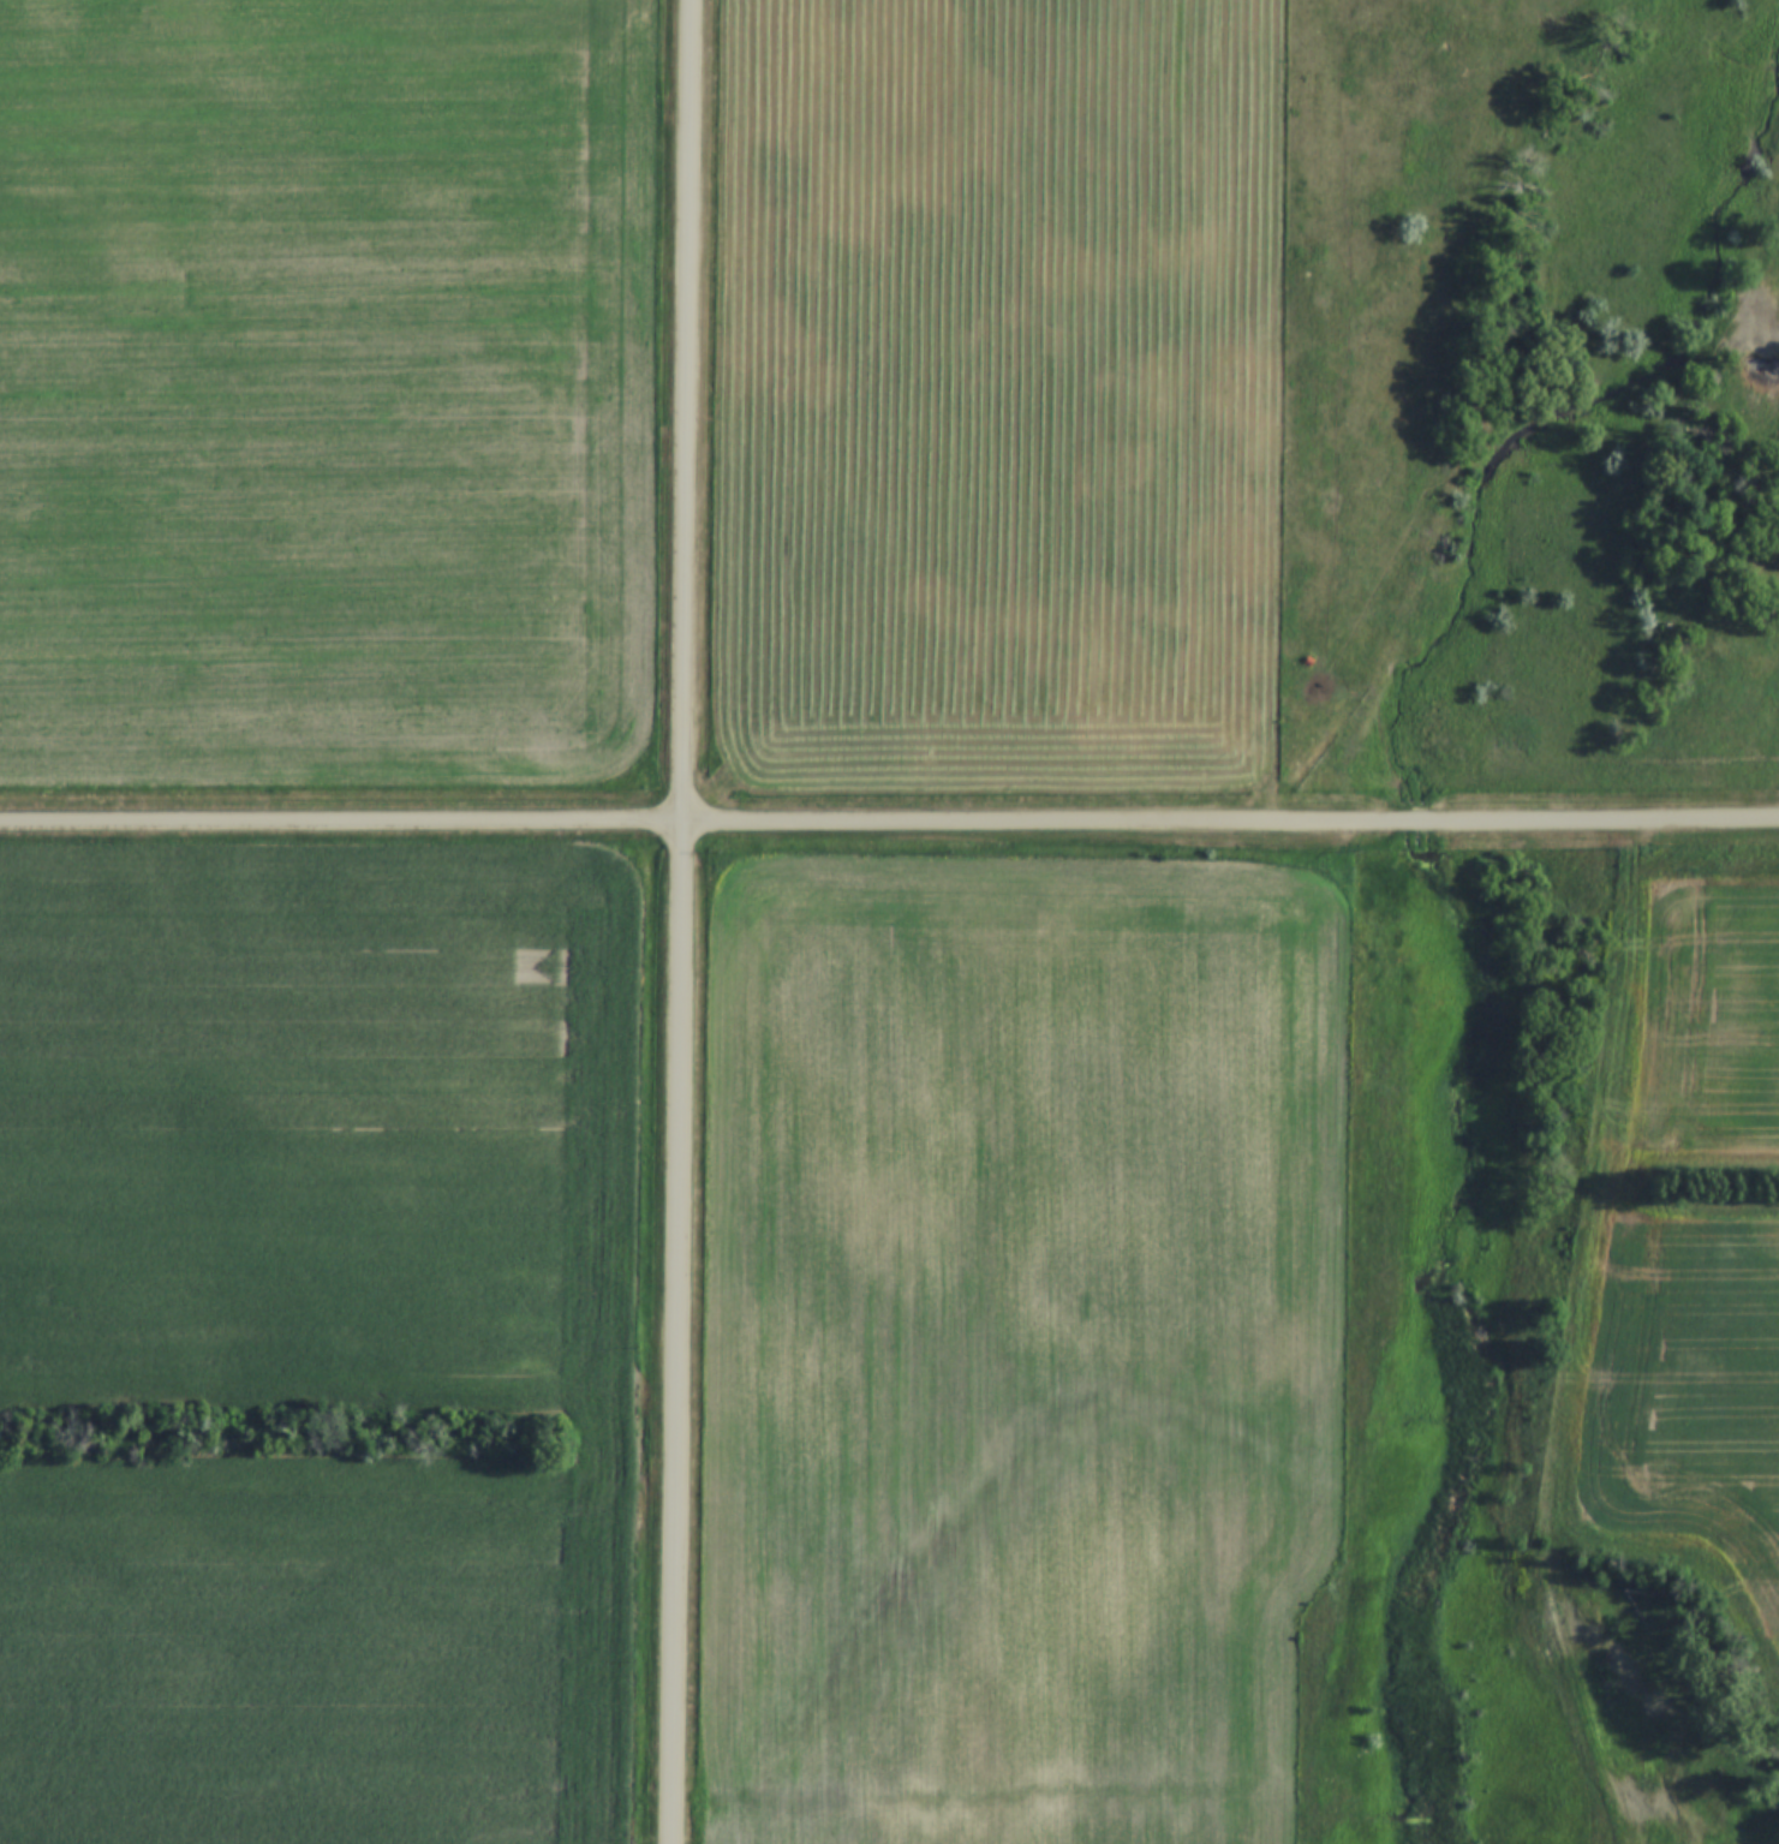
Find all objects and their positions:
road: (889, 823)
road: (686, 921)

